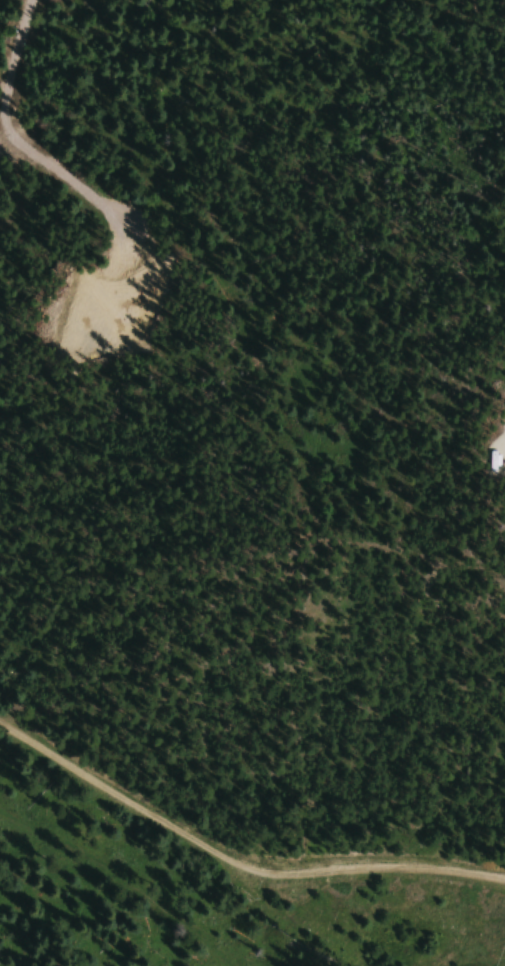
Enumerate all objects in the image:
road: (236, 857)

